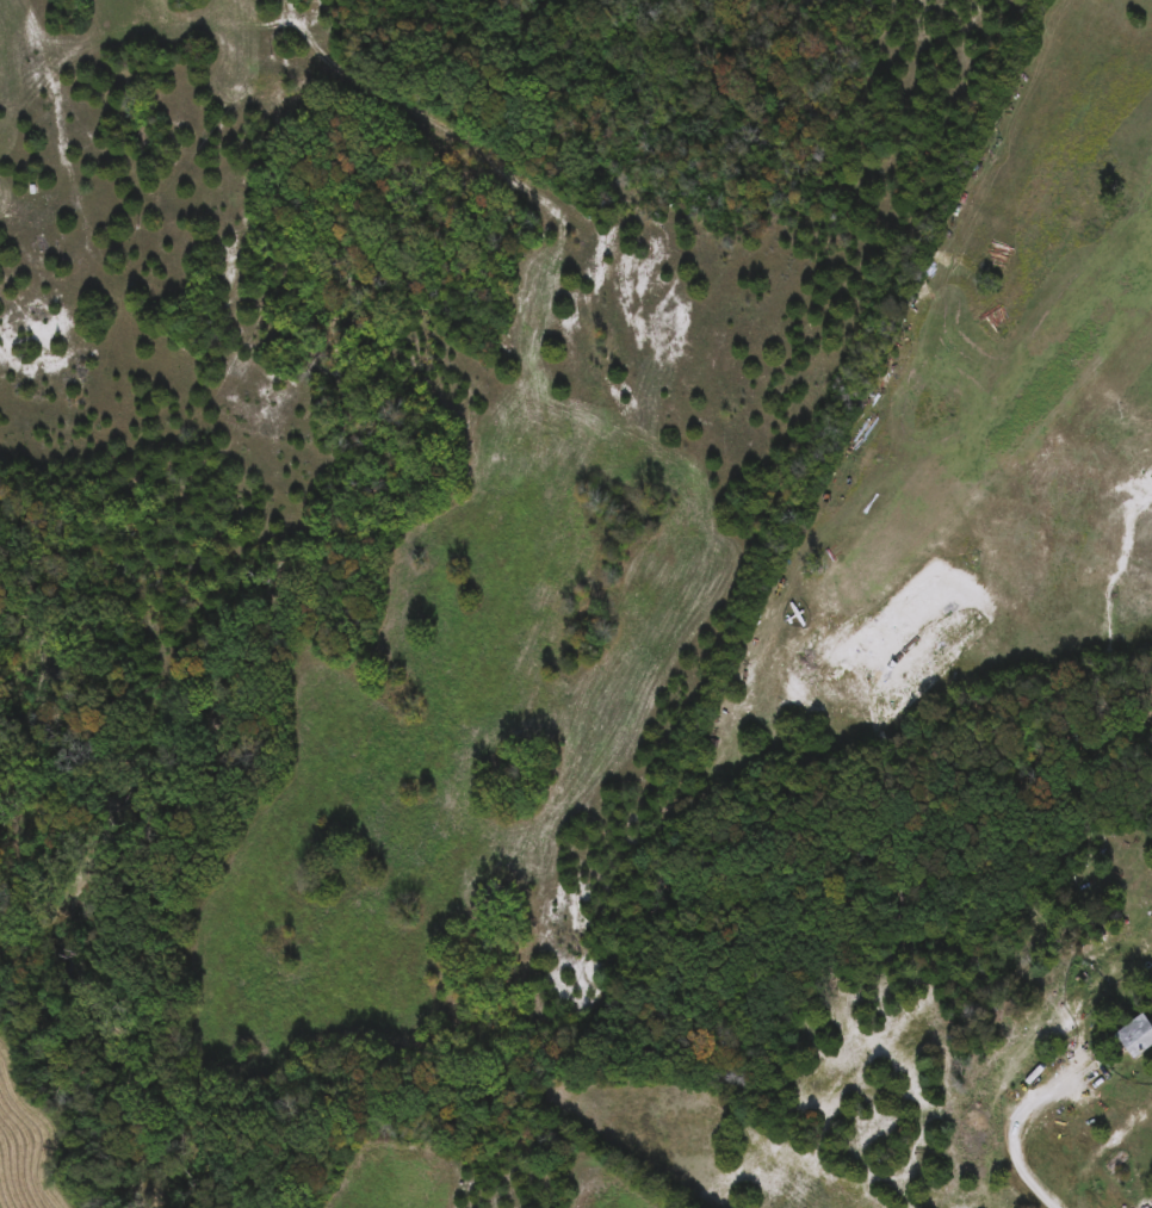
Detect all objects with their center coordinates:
building: (1132, 1037)
road: (1015, 1142)

